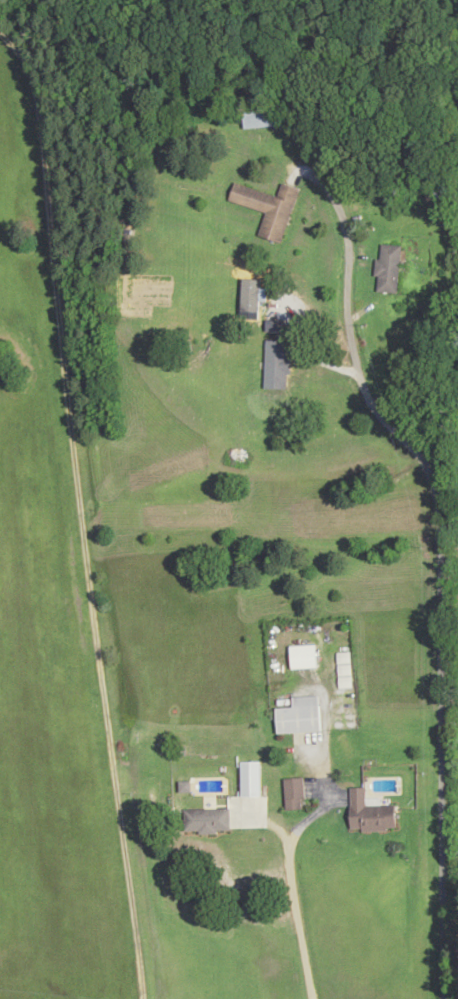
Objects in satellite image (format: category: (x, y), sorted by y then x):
building: (268, 209)
building: (388, 270)
road: (393, 363)
building: (279, 365)
road: (438, 590)
building: (303, 657)
building: (301, 716)
building: (294, 794)
building: (371, 813)
building: (207, 821)

